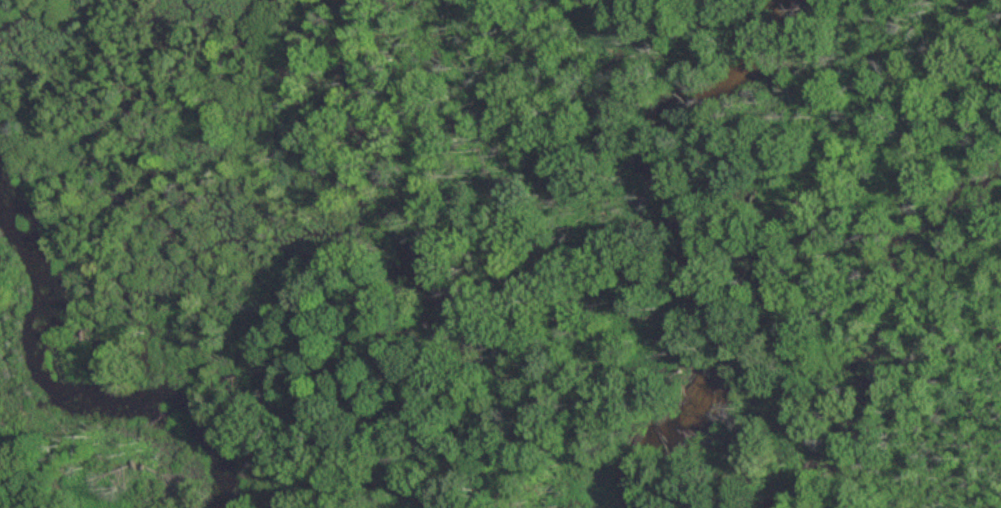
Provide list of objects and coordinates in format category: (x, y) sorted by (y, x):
river: (682, 253)

